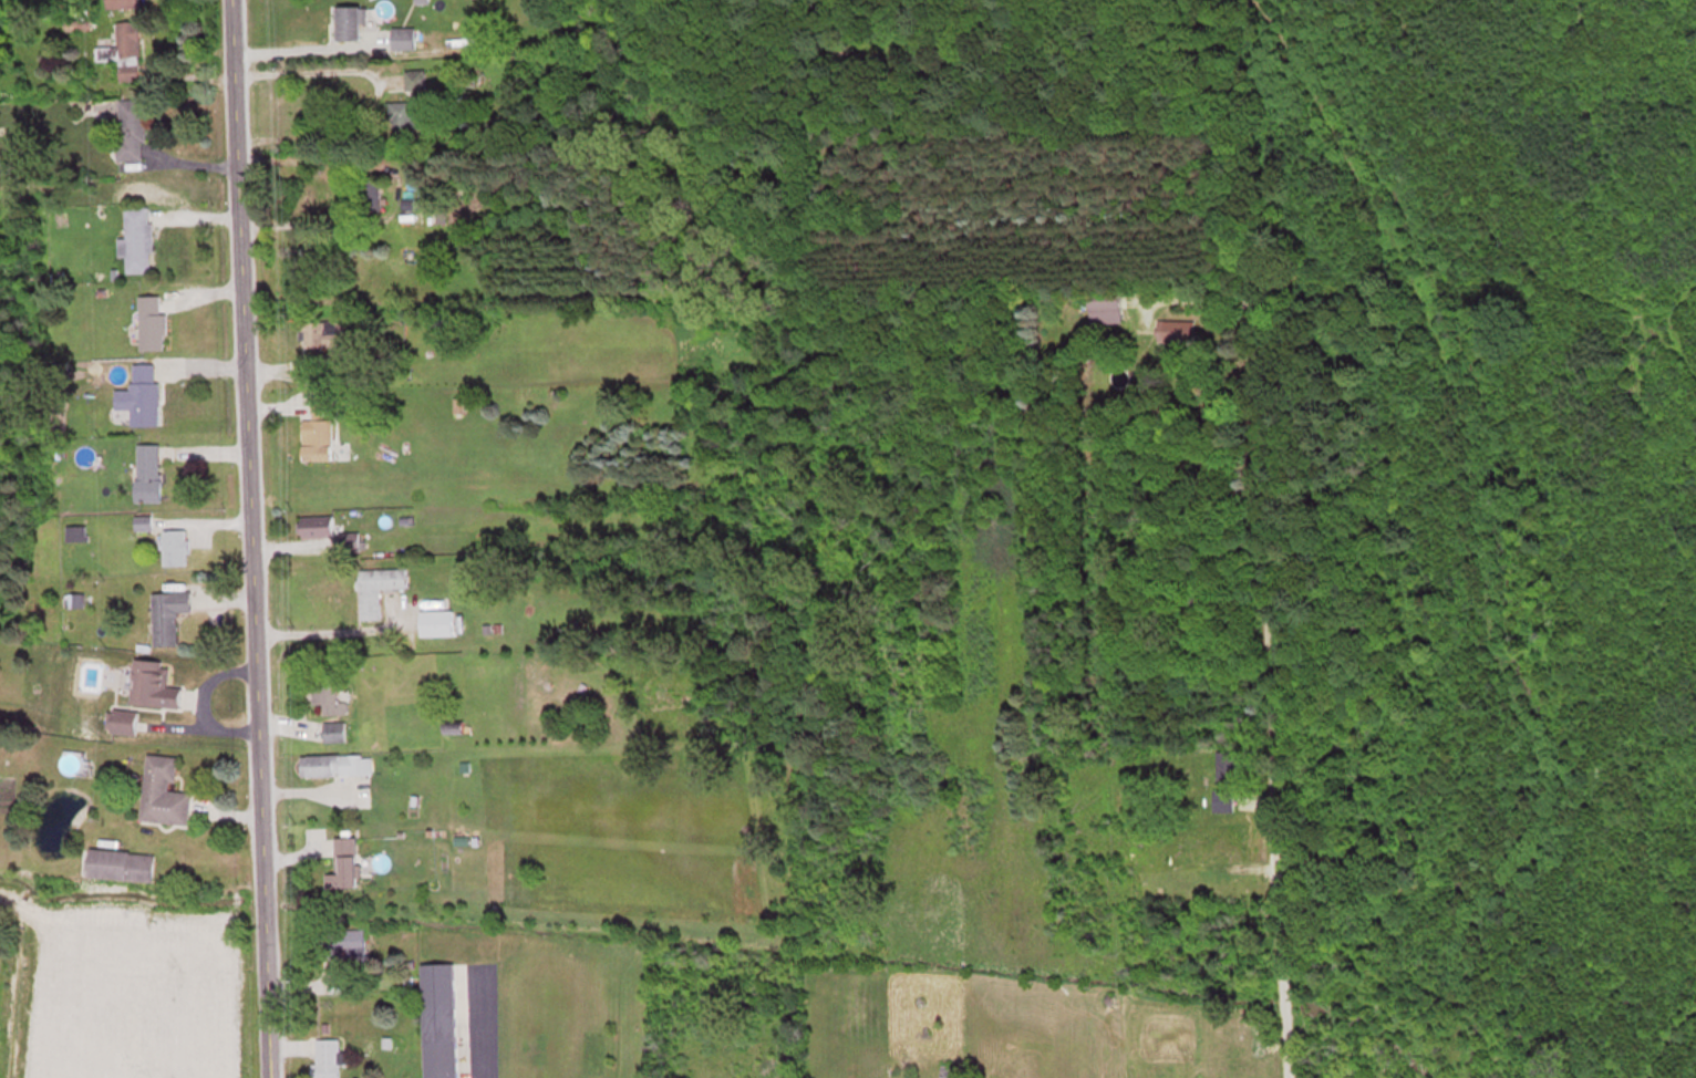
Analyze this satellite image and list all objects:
building: (122, 3)
building: (350, 21)
building: (402, 37)
building: (122, 49)
building: (405, 116)
building: (130, 127)
building: (363, 194)
building: (136, 238)
building: (1105, 304)
building: (151, 320)
building: (1175, 329)
building: (325, 332)
building: (141, 393)
building: (318, 428)
building: (147, 470)
building: (143, 521)
building: (314, 524)
building: (74, 532)
road: (245, 539)
building: (175, 546)
building: (376, 587)
building: (168, 614)
building: (435, 621)
road: (327, 641)
building: (153, 683)
building: (329, 695)
road: (1269, 707)
building: (122, 721)
building: (333, 730)
building: (335, 764)
building: (1224, 781)
building: (163, 791)
building: (1208, 849)
building: (343, 864)
building: (120, 865)
building: (342, 942)
building: (443, 1018)
road: (477, 1028)
building: (327, 1057)

